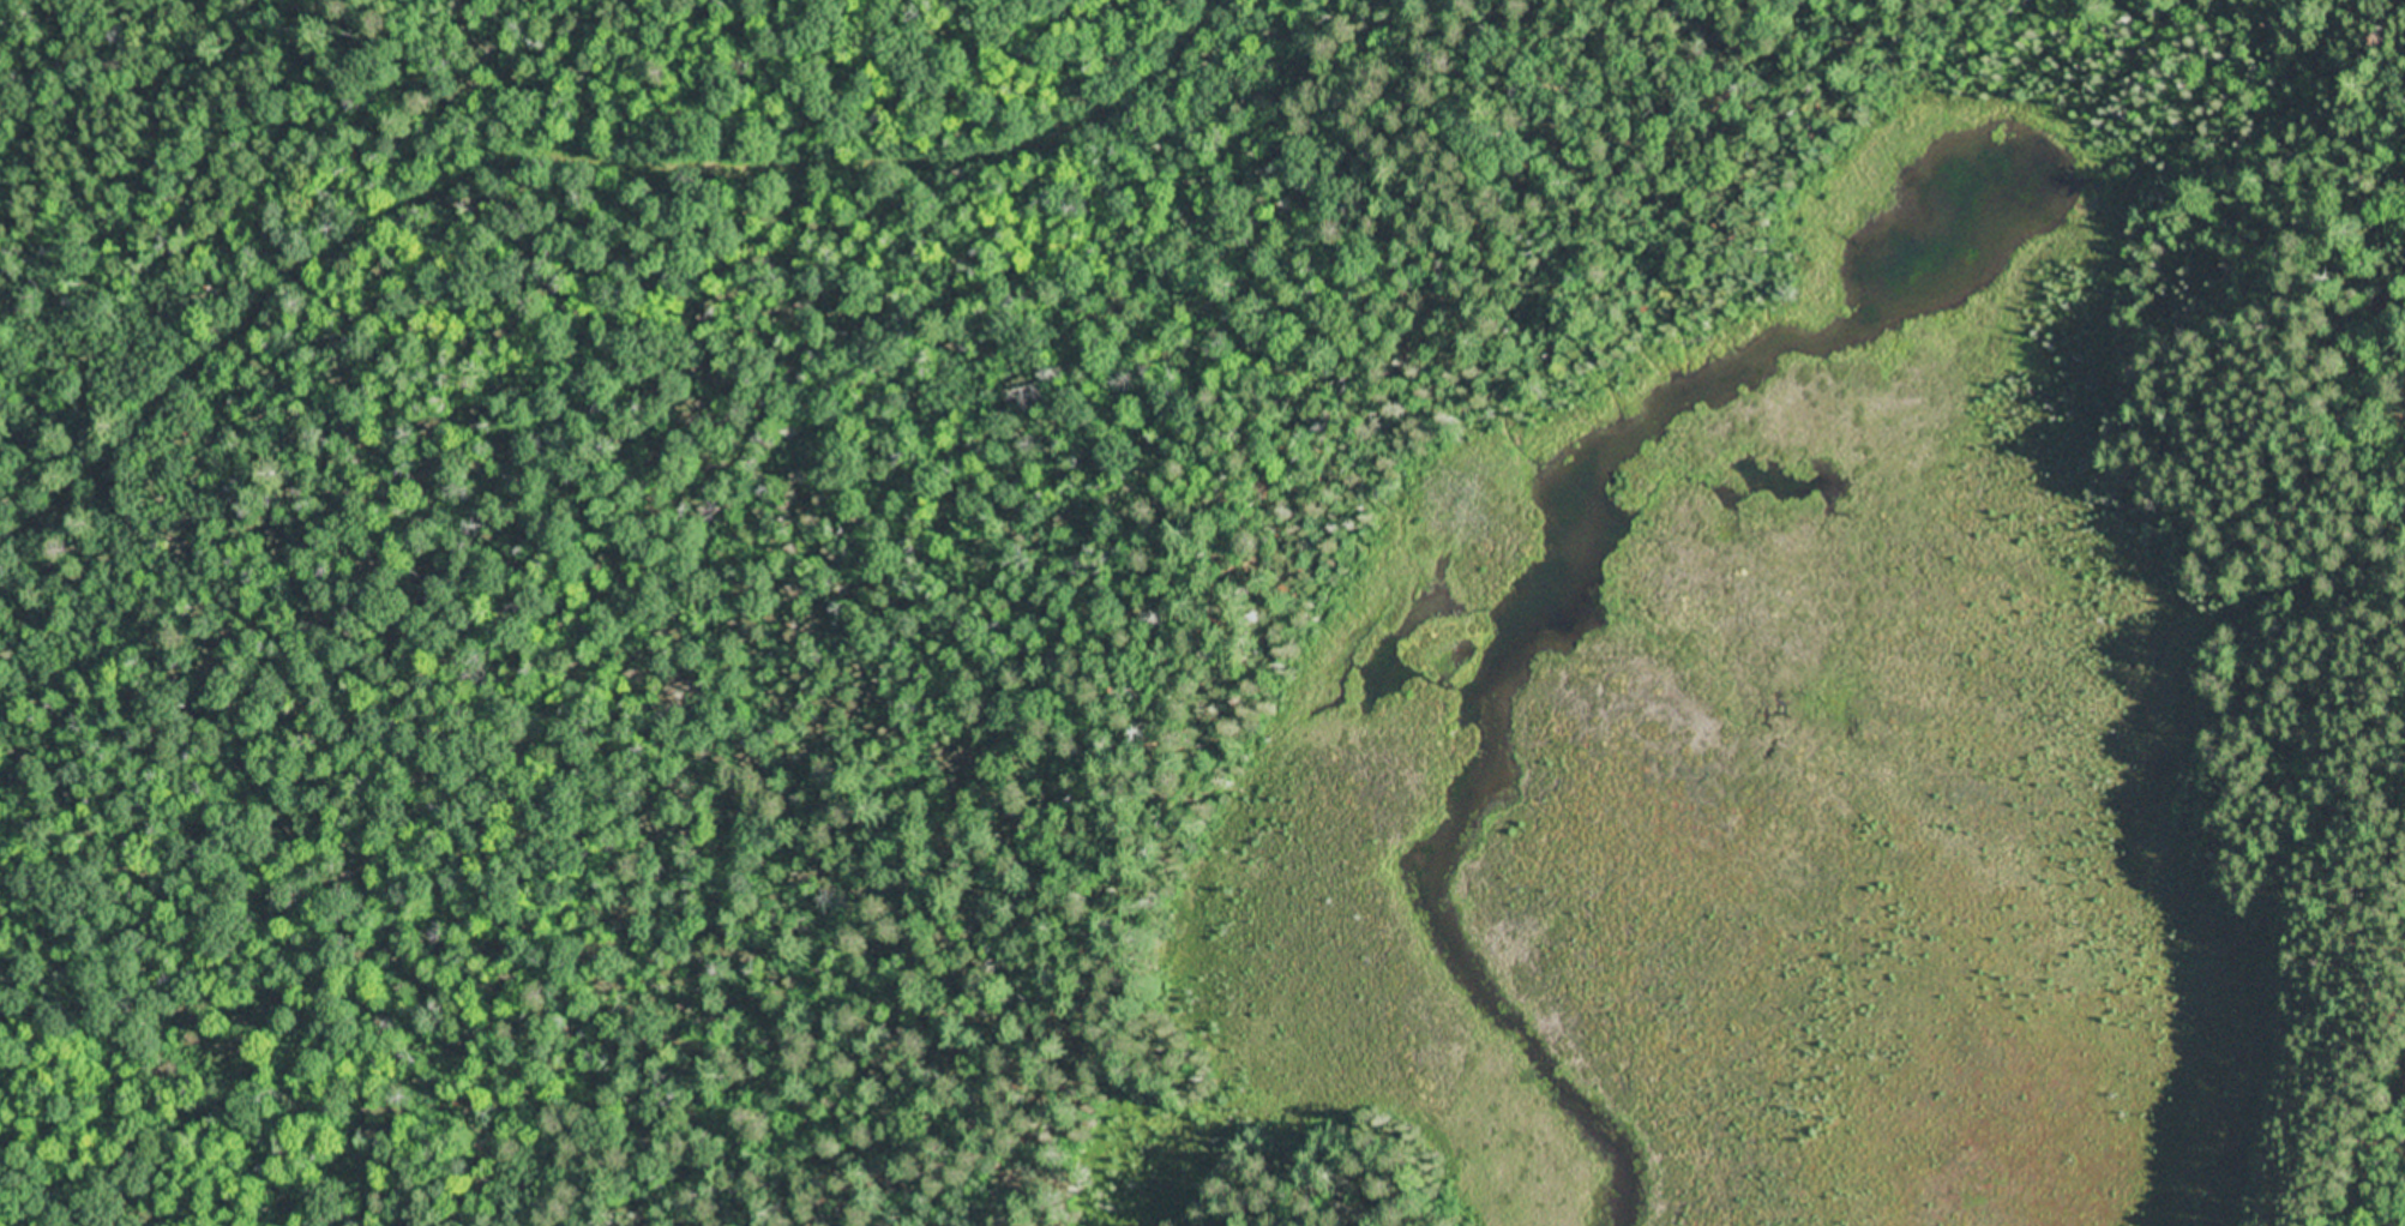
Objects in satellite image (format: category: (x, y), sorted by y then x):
road: (573, 156)

